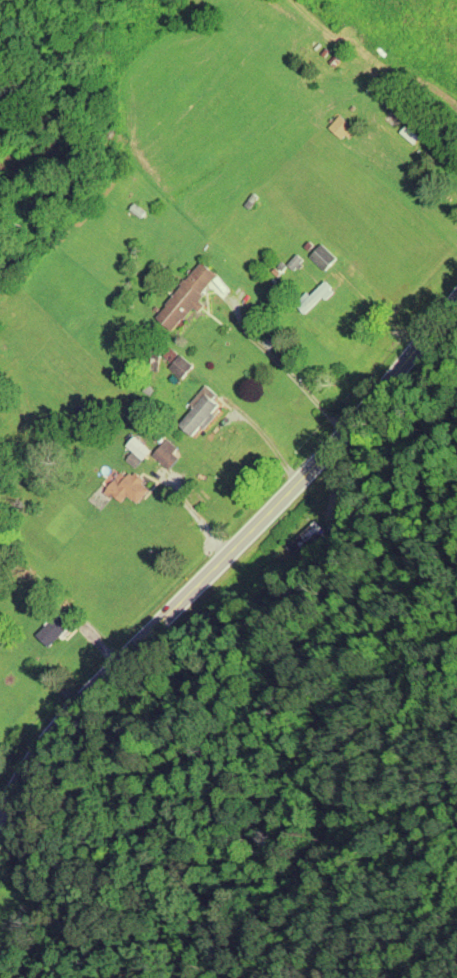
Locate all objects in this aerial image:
building: (190, 290)
building: (168, 453)
building: (128, 484)
building: (310, 534)
road: (219, 568)

